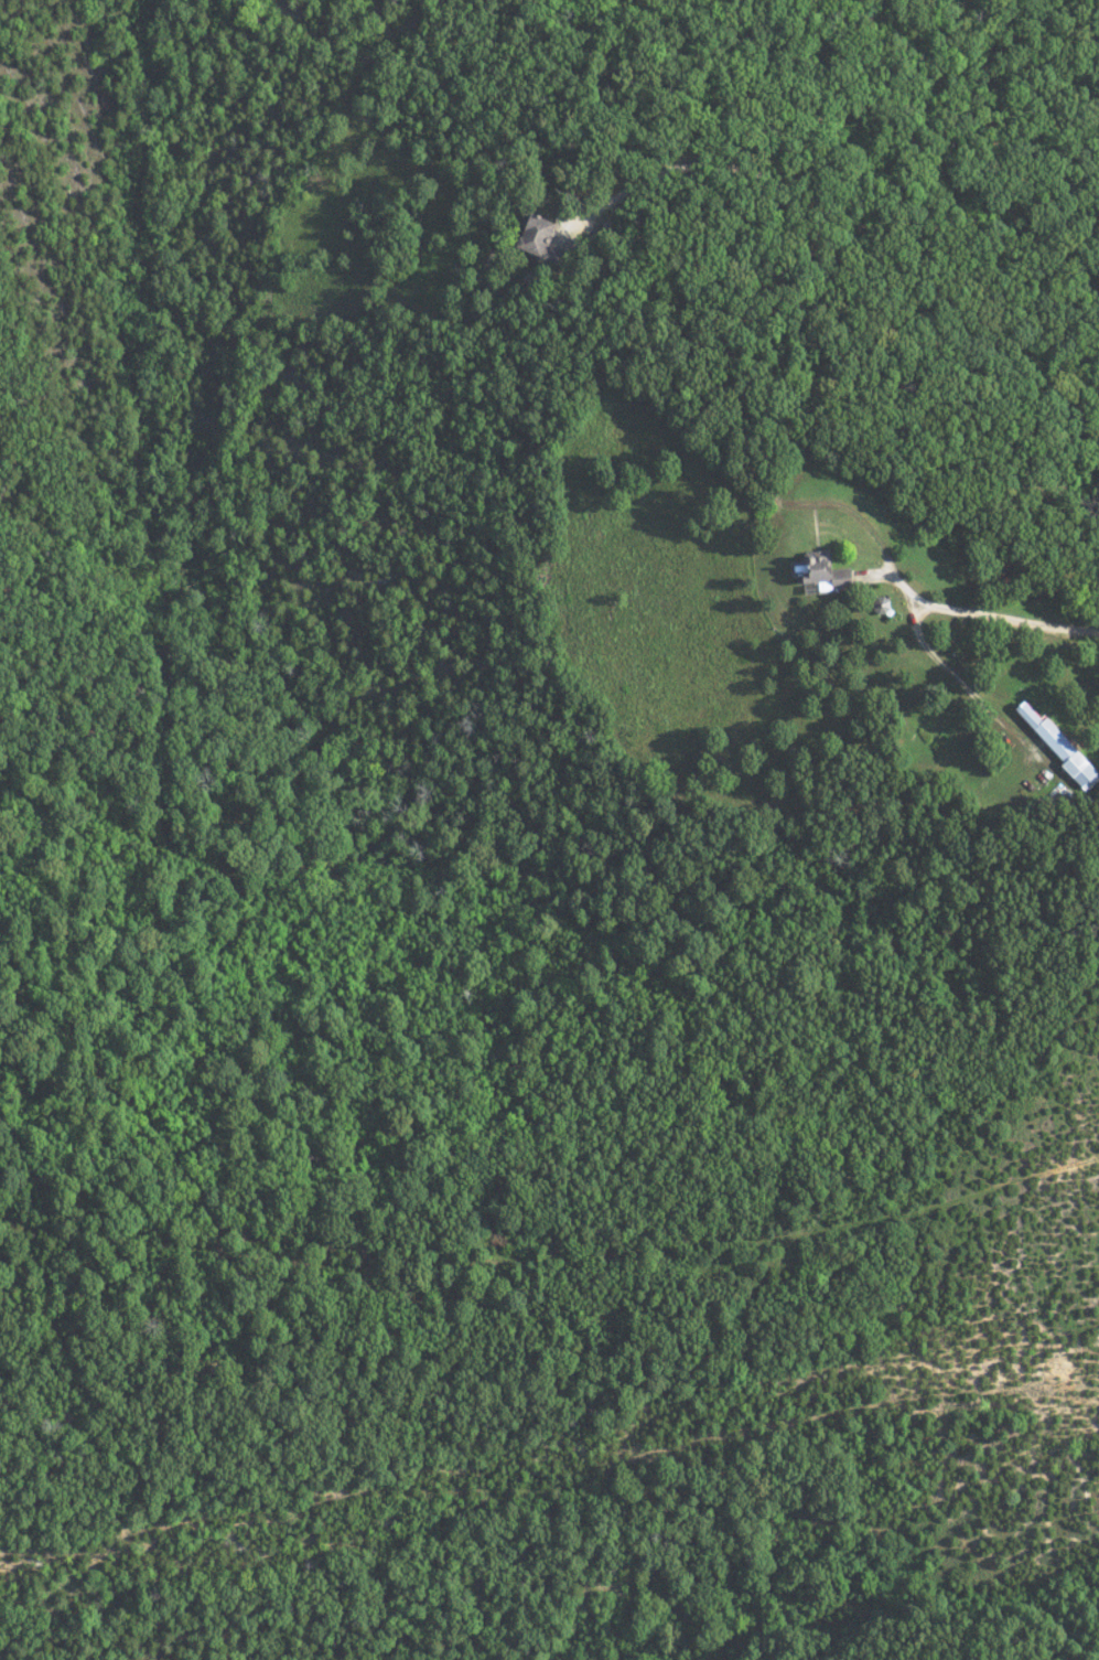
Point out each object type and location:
building: (532, 234)
building: (1064, 746)

